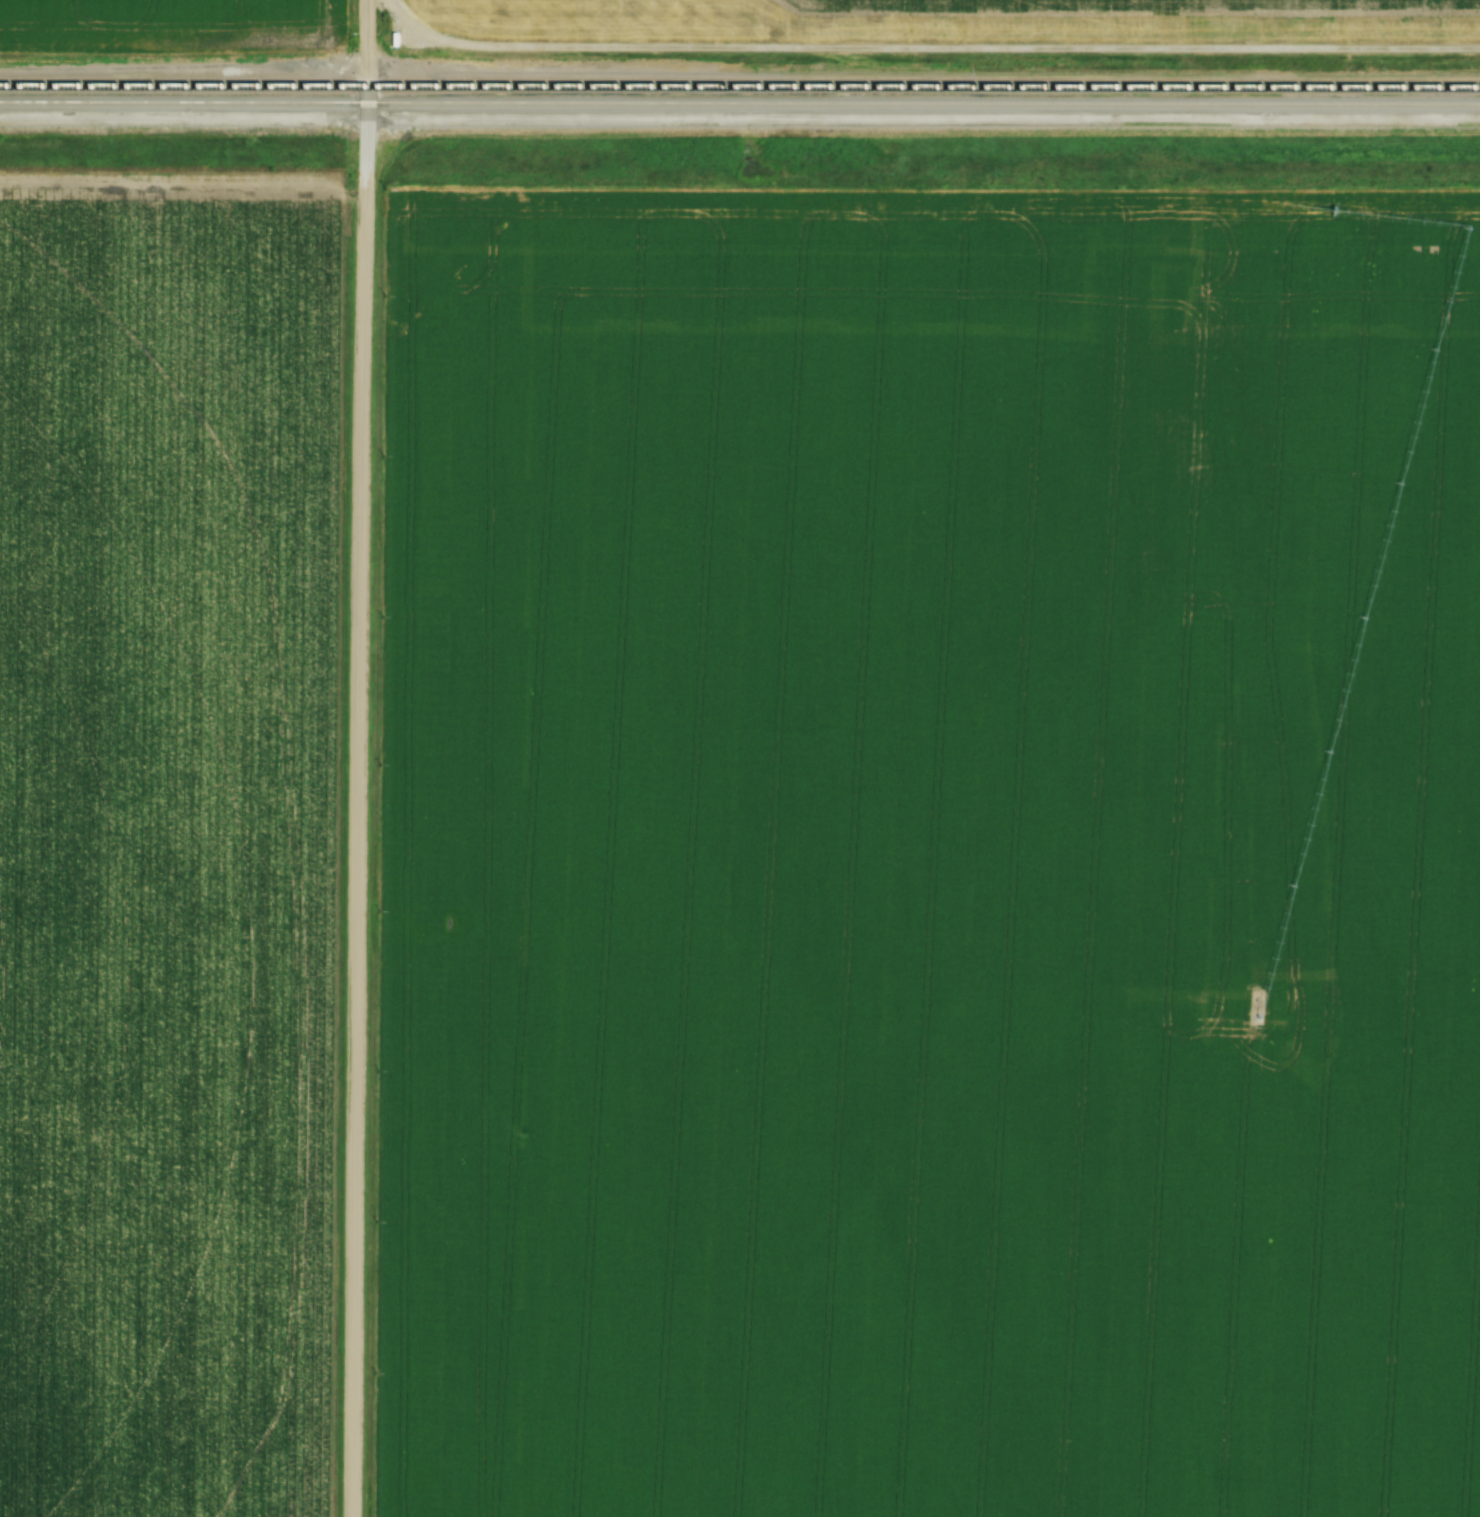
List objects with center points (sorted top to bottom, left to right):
railway: (740, 84)
railway: (739, 103)
road: (359, 758)

